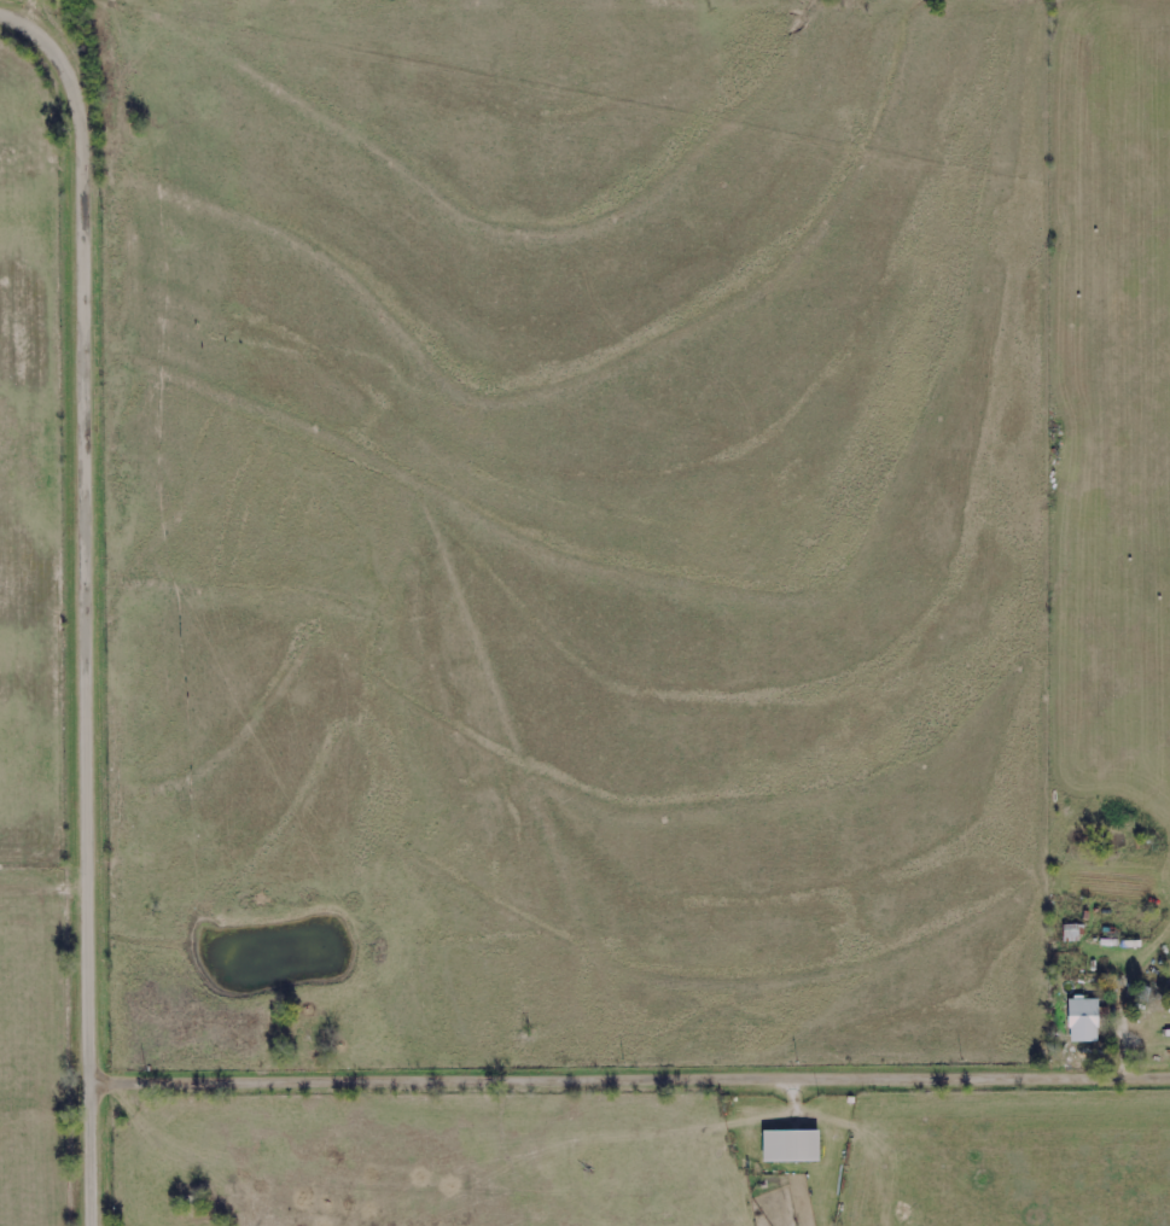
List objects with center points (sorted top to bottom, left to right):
road: (95, 602)
building: (1084, 1015)
road: (634, 1084)
building: (791, 1145)

